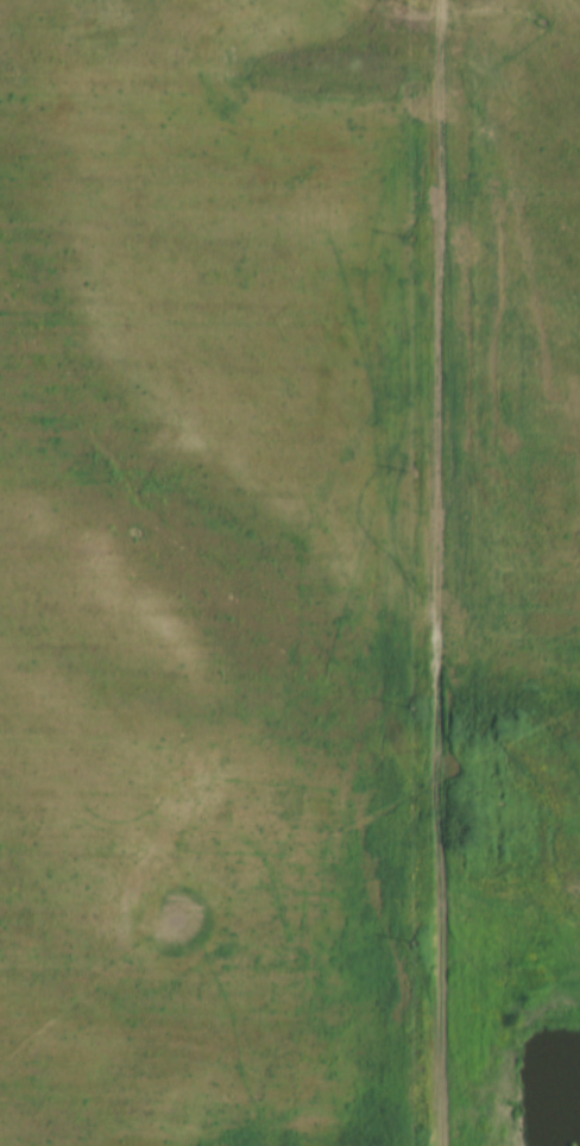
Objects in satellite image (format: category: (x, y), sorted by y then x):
road: (435, 573)

